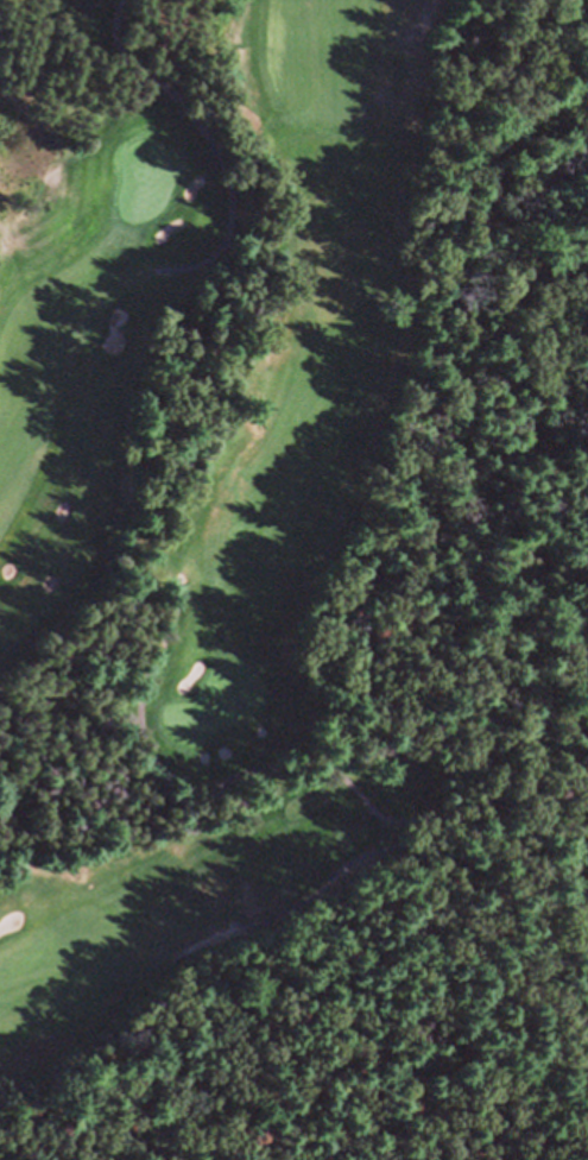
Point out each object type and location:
road: (279, 267)
park: (244, 518)
road: (398, 855)

